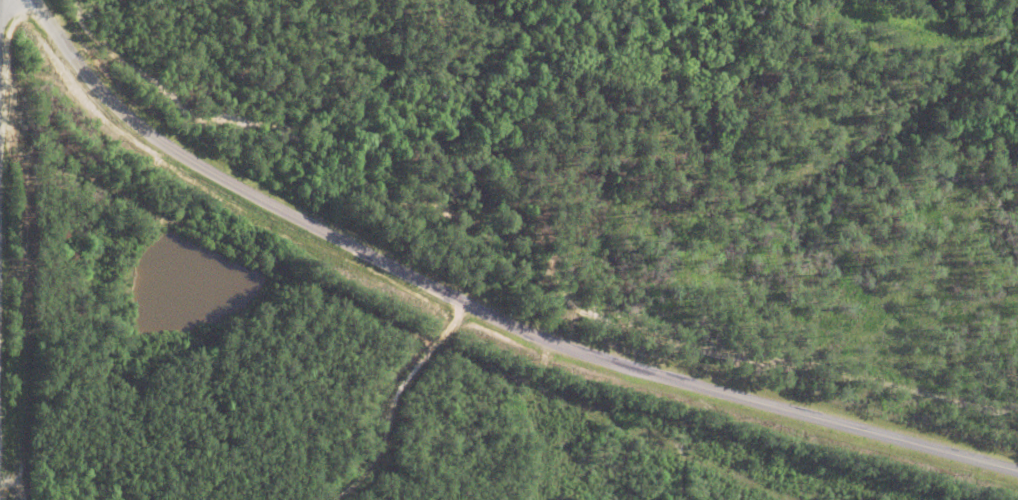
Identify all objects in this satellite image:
road: (483, 314)

